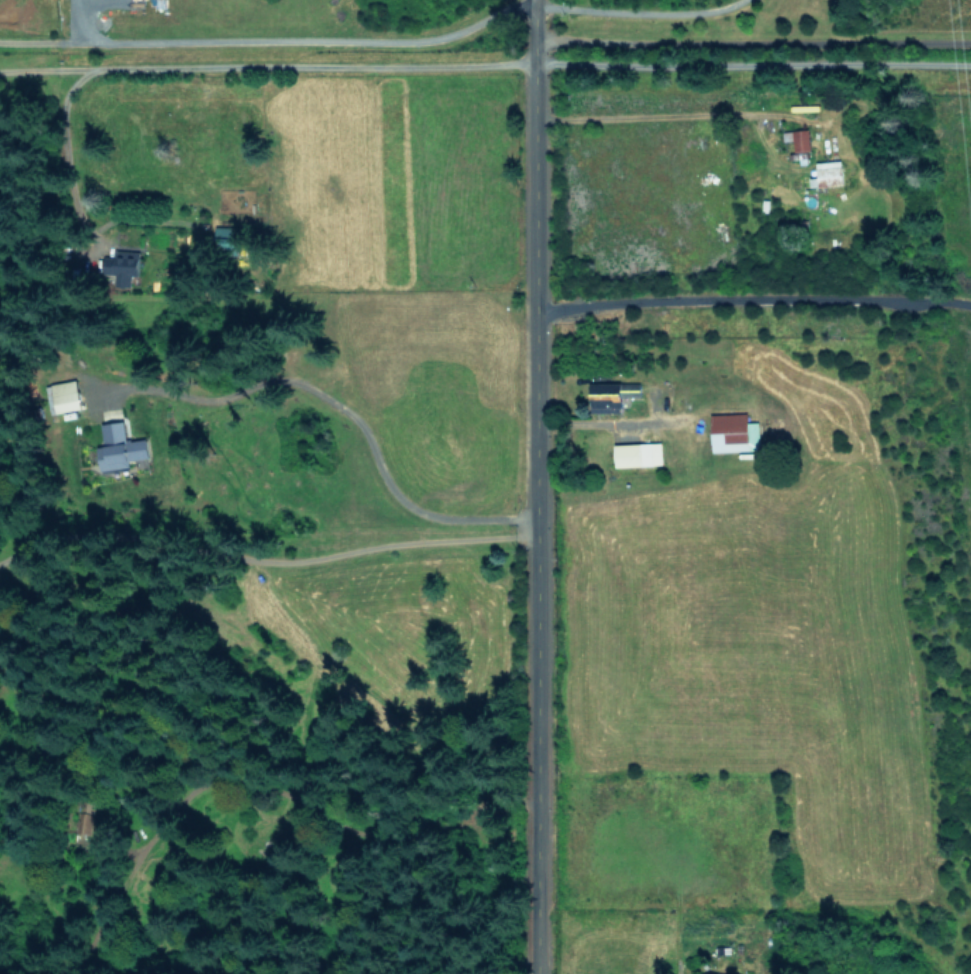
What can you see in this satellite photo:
road: (625, 4)
road: (72, 19)
road: (750, 33)
road: (259, 37)
road: (195, 59)
road: (749, 64)
road: (37, 65)
building: (801, 140)
building: (827, 174)
building: (225, 234)
building: (123, 264)
road: (750, 291)
building: (611, 395)
road: (334, 401)
building: (733, 432)
building: (638, 454)
road: (529, 487)
building: (713, 973)

